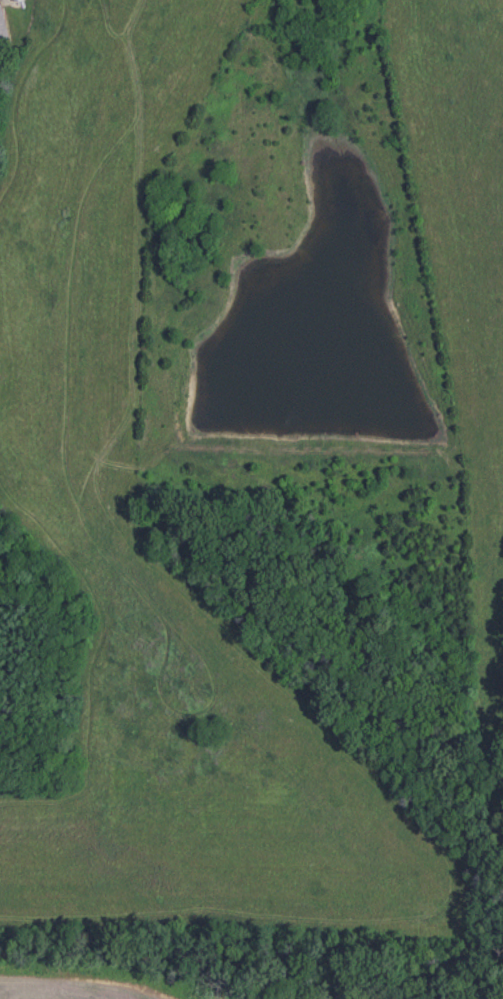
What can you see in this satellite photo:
building: (3, 28)

